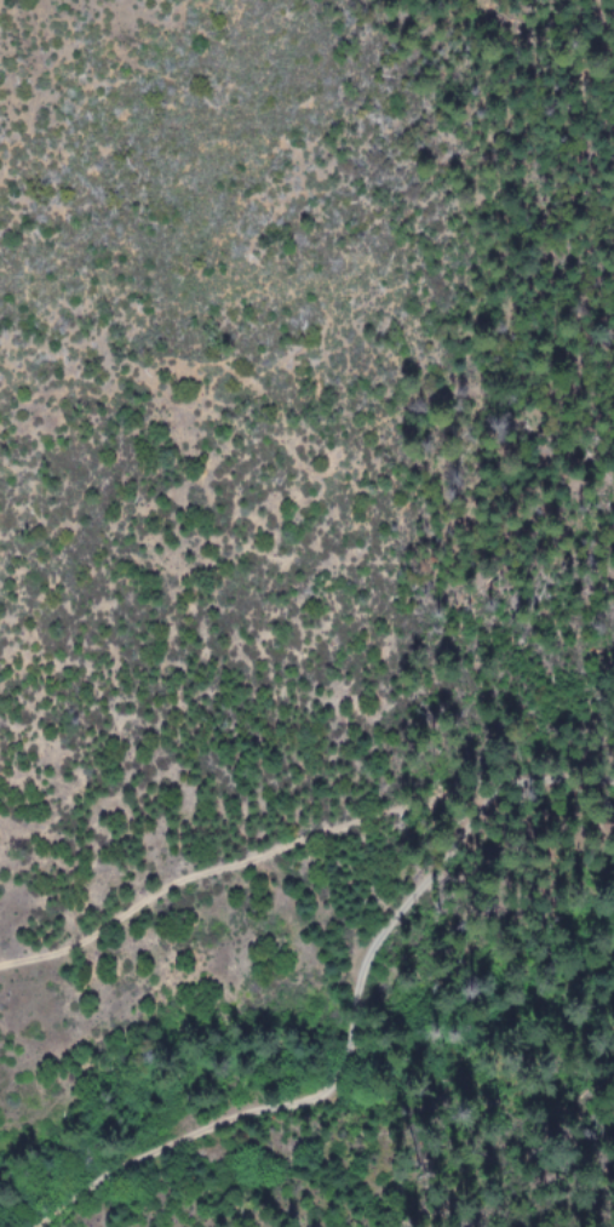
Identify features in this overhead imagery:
road: (328, 1098)

